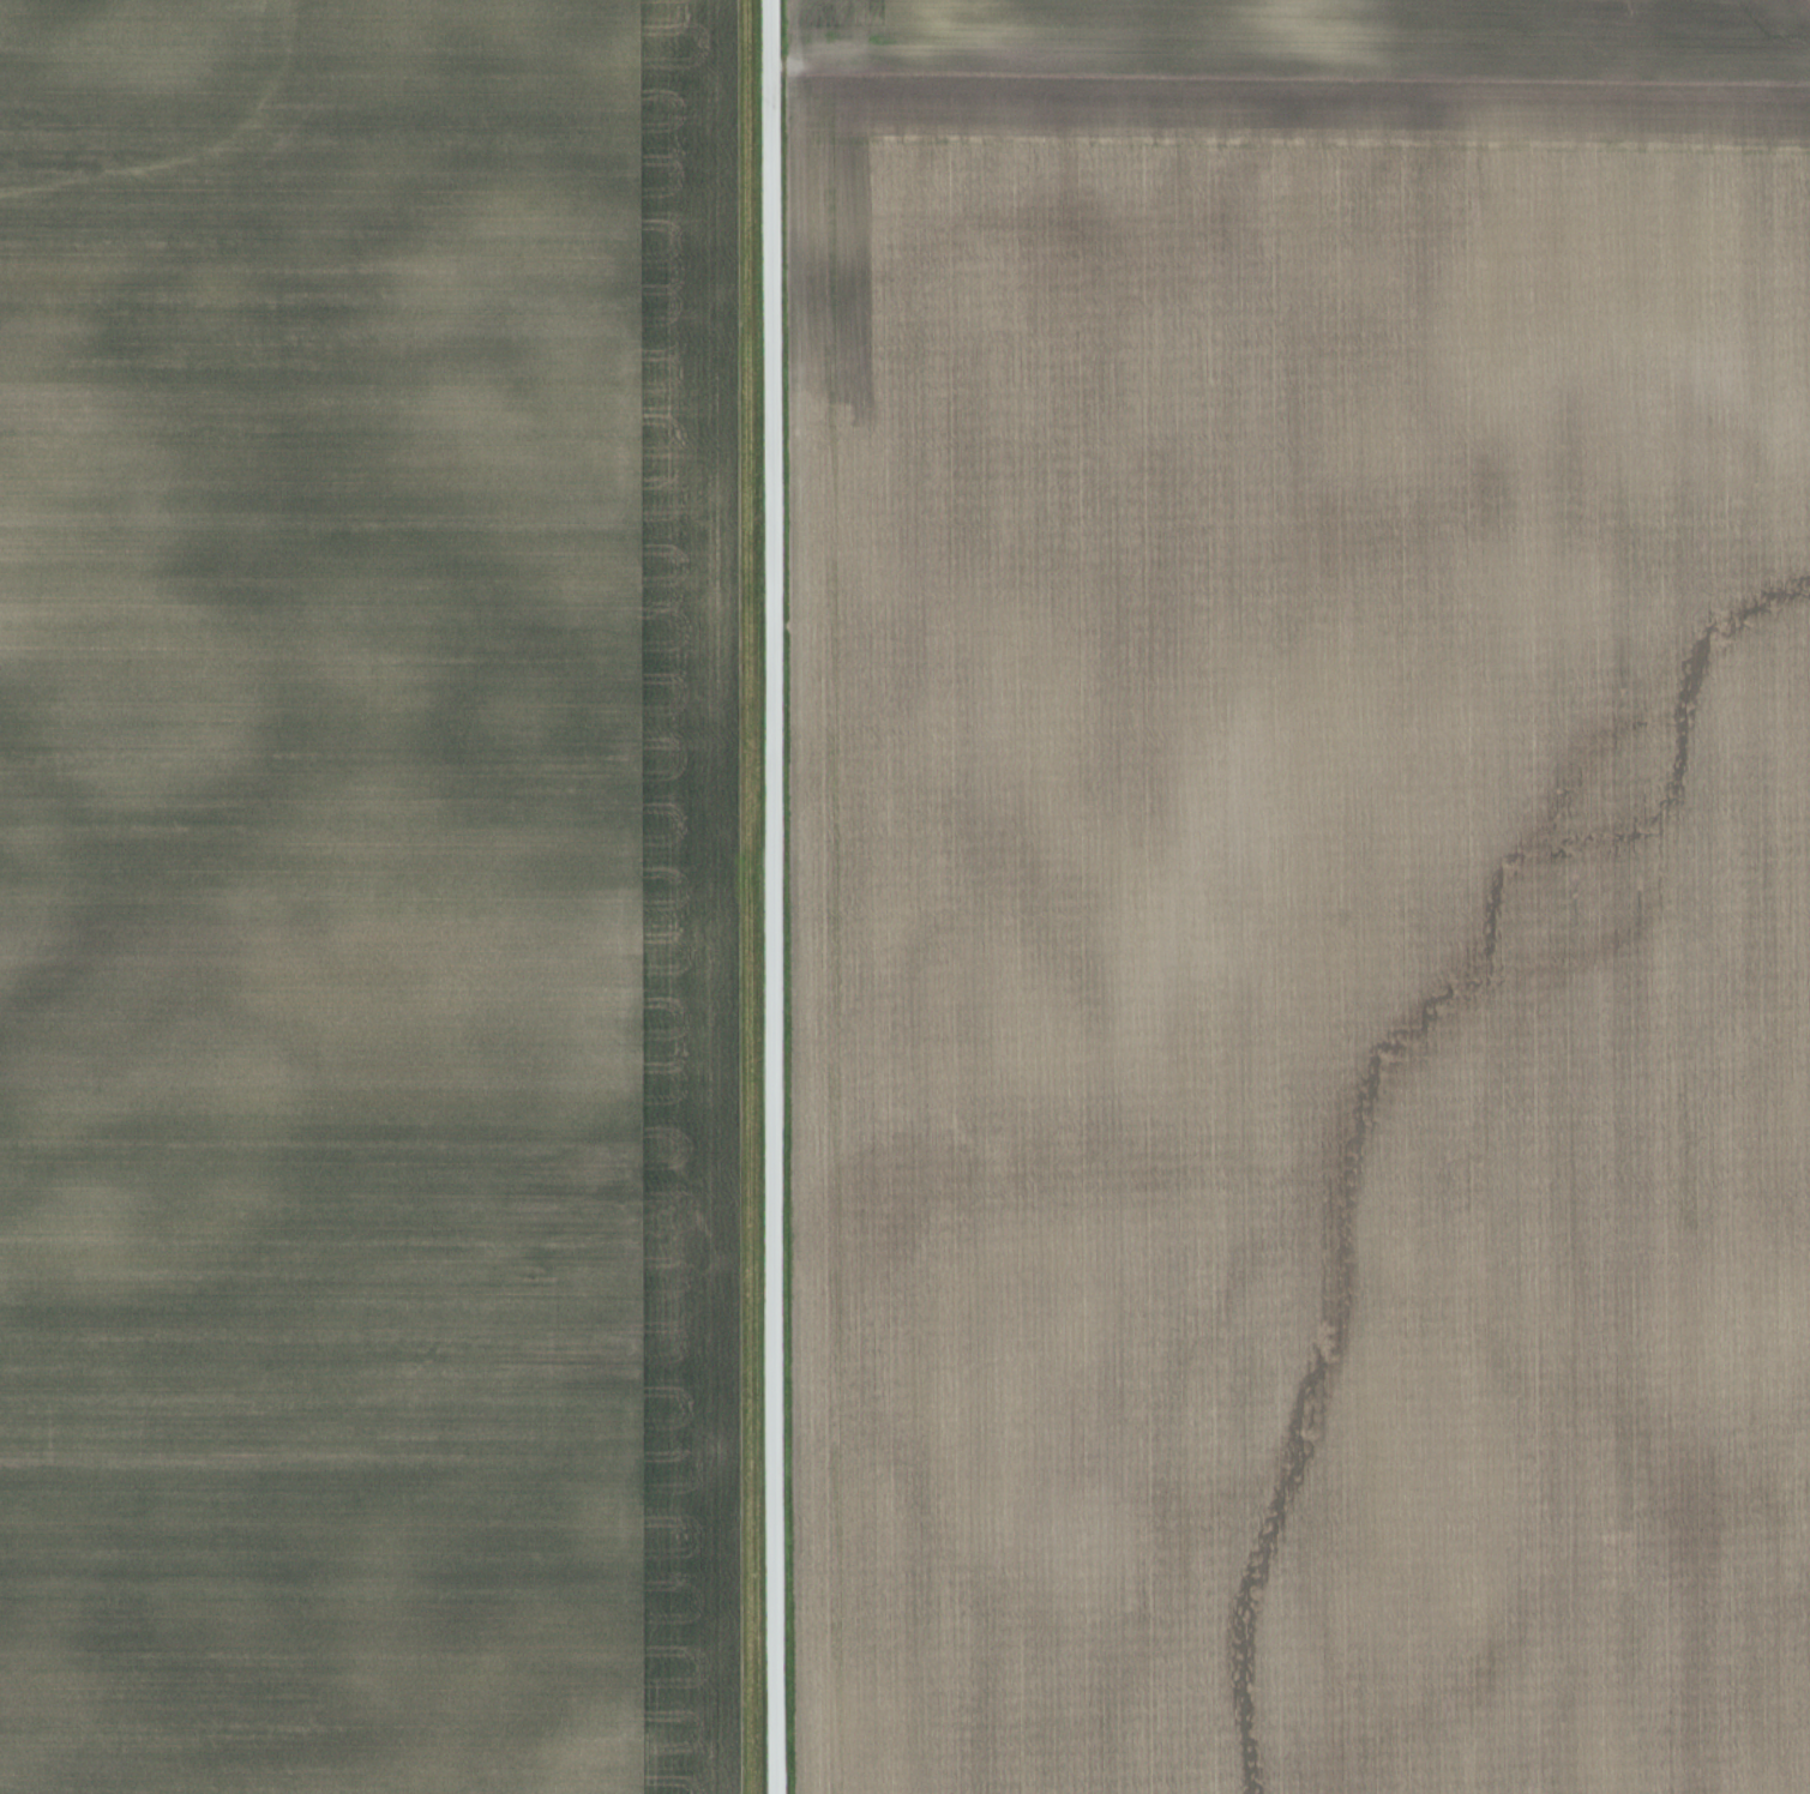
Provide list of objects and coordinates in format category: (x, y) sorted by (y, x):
road: (774, 896)

